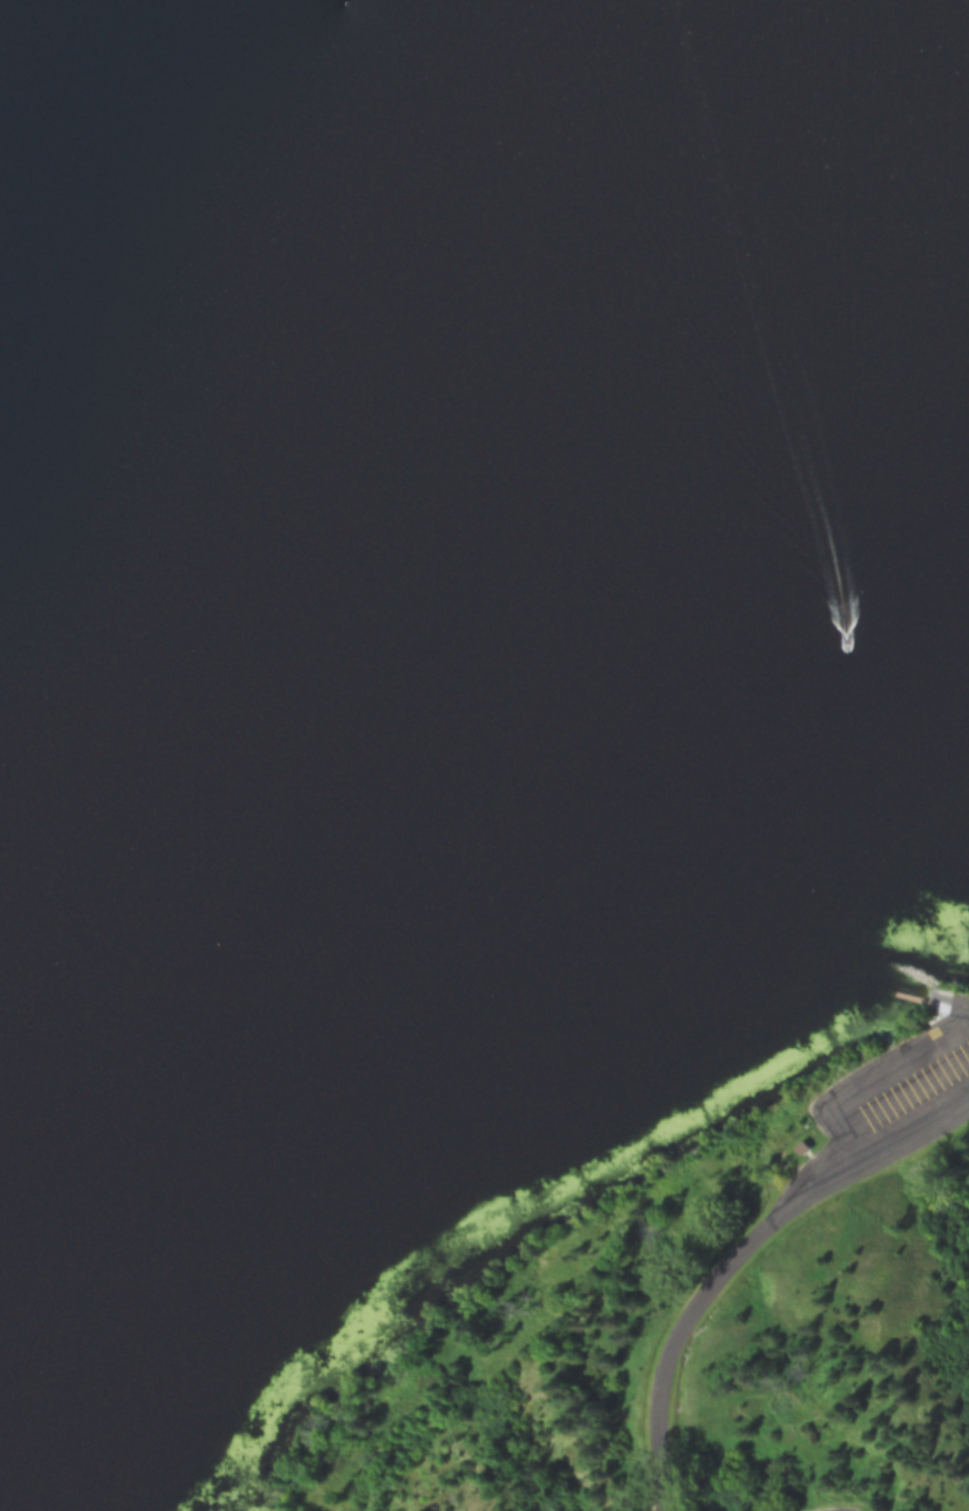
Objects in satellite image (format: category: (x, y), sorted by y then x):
river: (175, 134)
parking lot: (916, 1085)
building: (809, 1146)
road: (743, 1262)
parking lot: (819, 1509)

